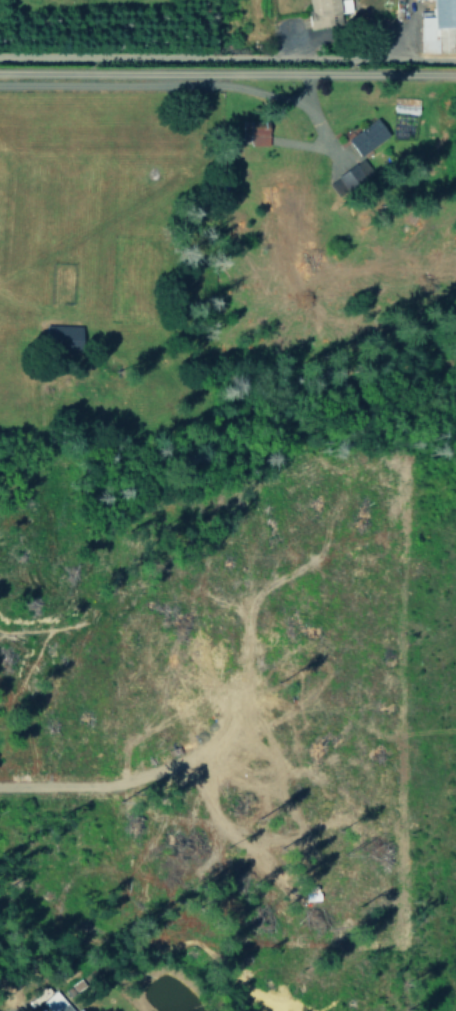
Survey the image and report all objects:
building: (327, 12)
building: (437, 23)
road: (228, 48)
building: (261, 133)
building: (370, 136)
building: (352, 179)
building: (65, 336)
building: (56, 1003)
building: (79, 1010)

